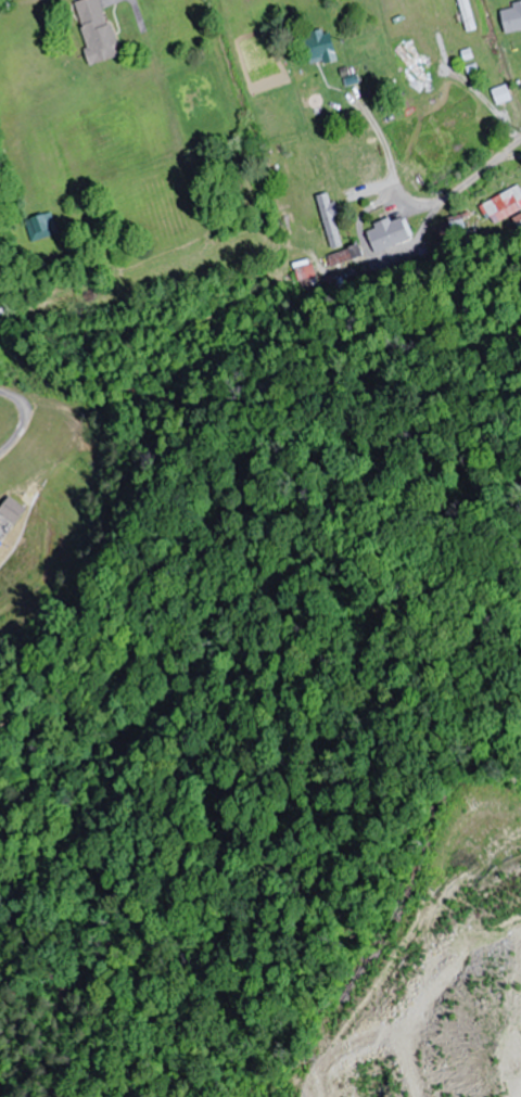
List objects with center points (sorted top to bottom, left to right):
building: (468, 15)
building: (512, 18)
building: (97, 30)
building: (322, 46)
building: (503, 95)
building: (505, 201)
building: (331, 221)
building: (41, 227)
building: (390, 231)
building: (14, 509)

